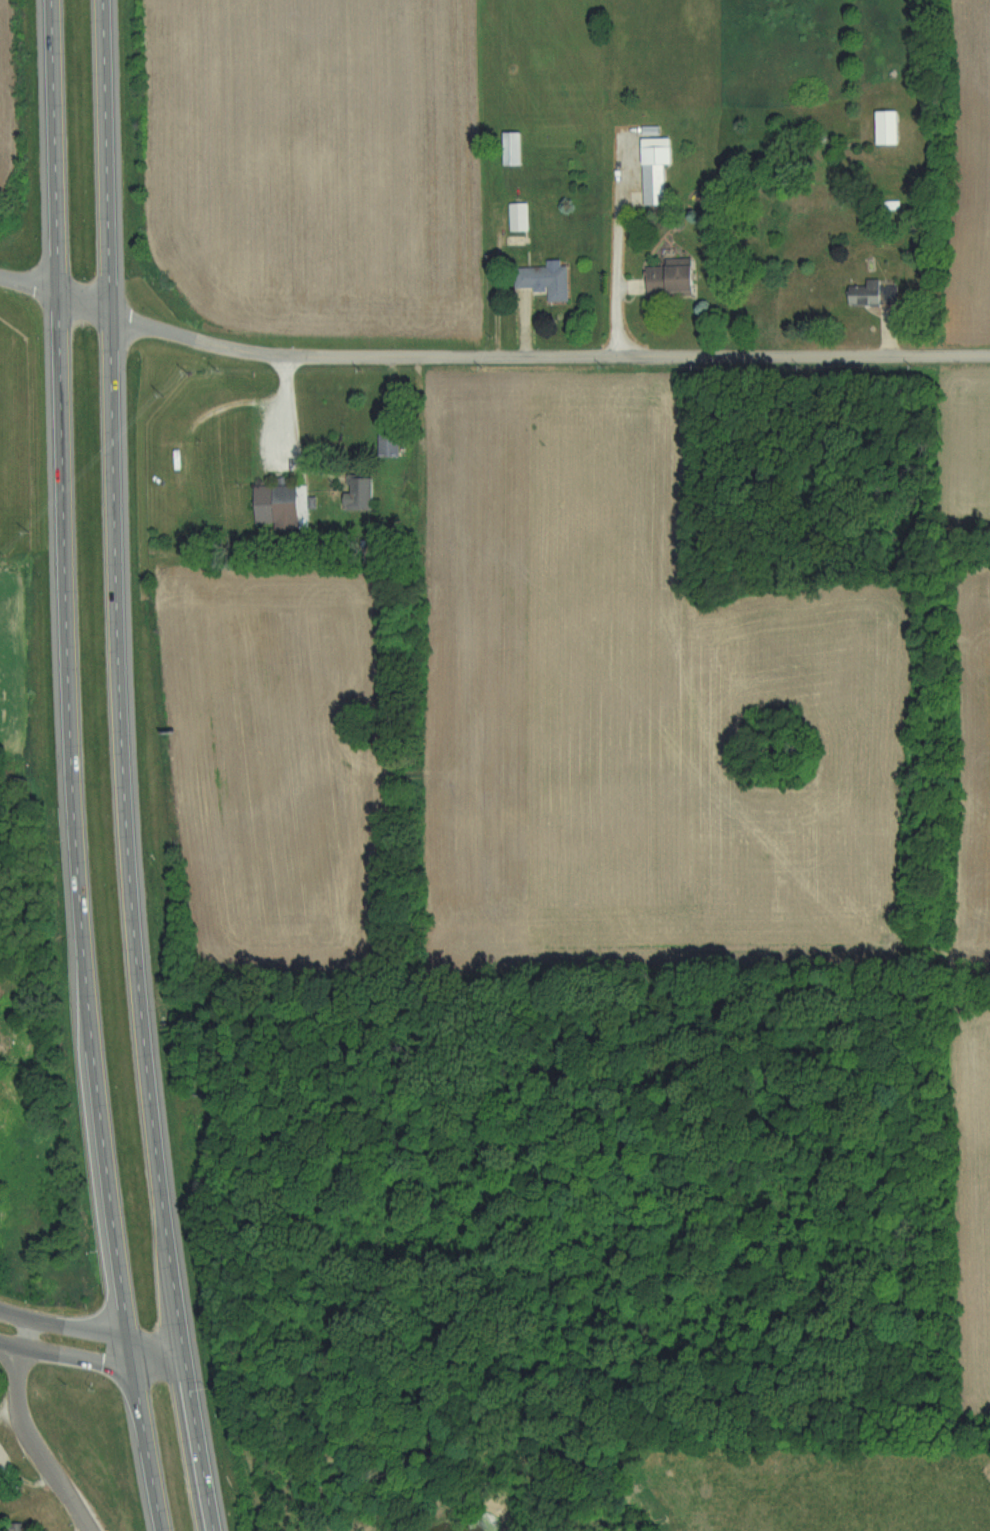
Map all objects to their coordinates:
building: (885, 127)
building: (516, 148)
building: (656, 169)
building: (521, 217)
building: (676, 277)
building: (547, 281)
building: (860, 295)
road: (489, 358)
building: (391, 445)
building: (283, 504)
road: (70, 768)
road: (122, 768)
road: (91, 1333)
road: (90, 1361)
road: (22, 1376)
road: (61, 1480)

